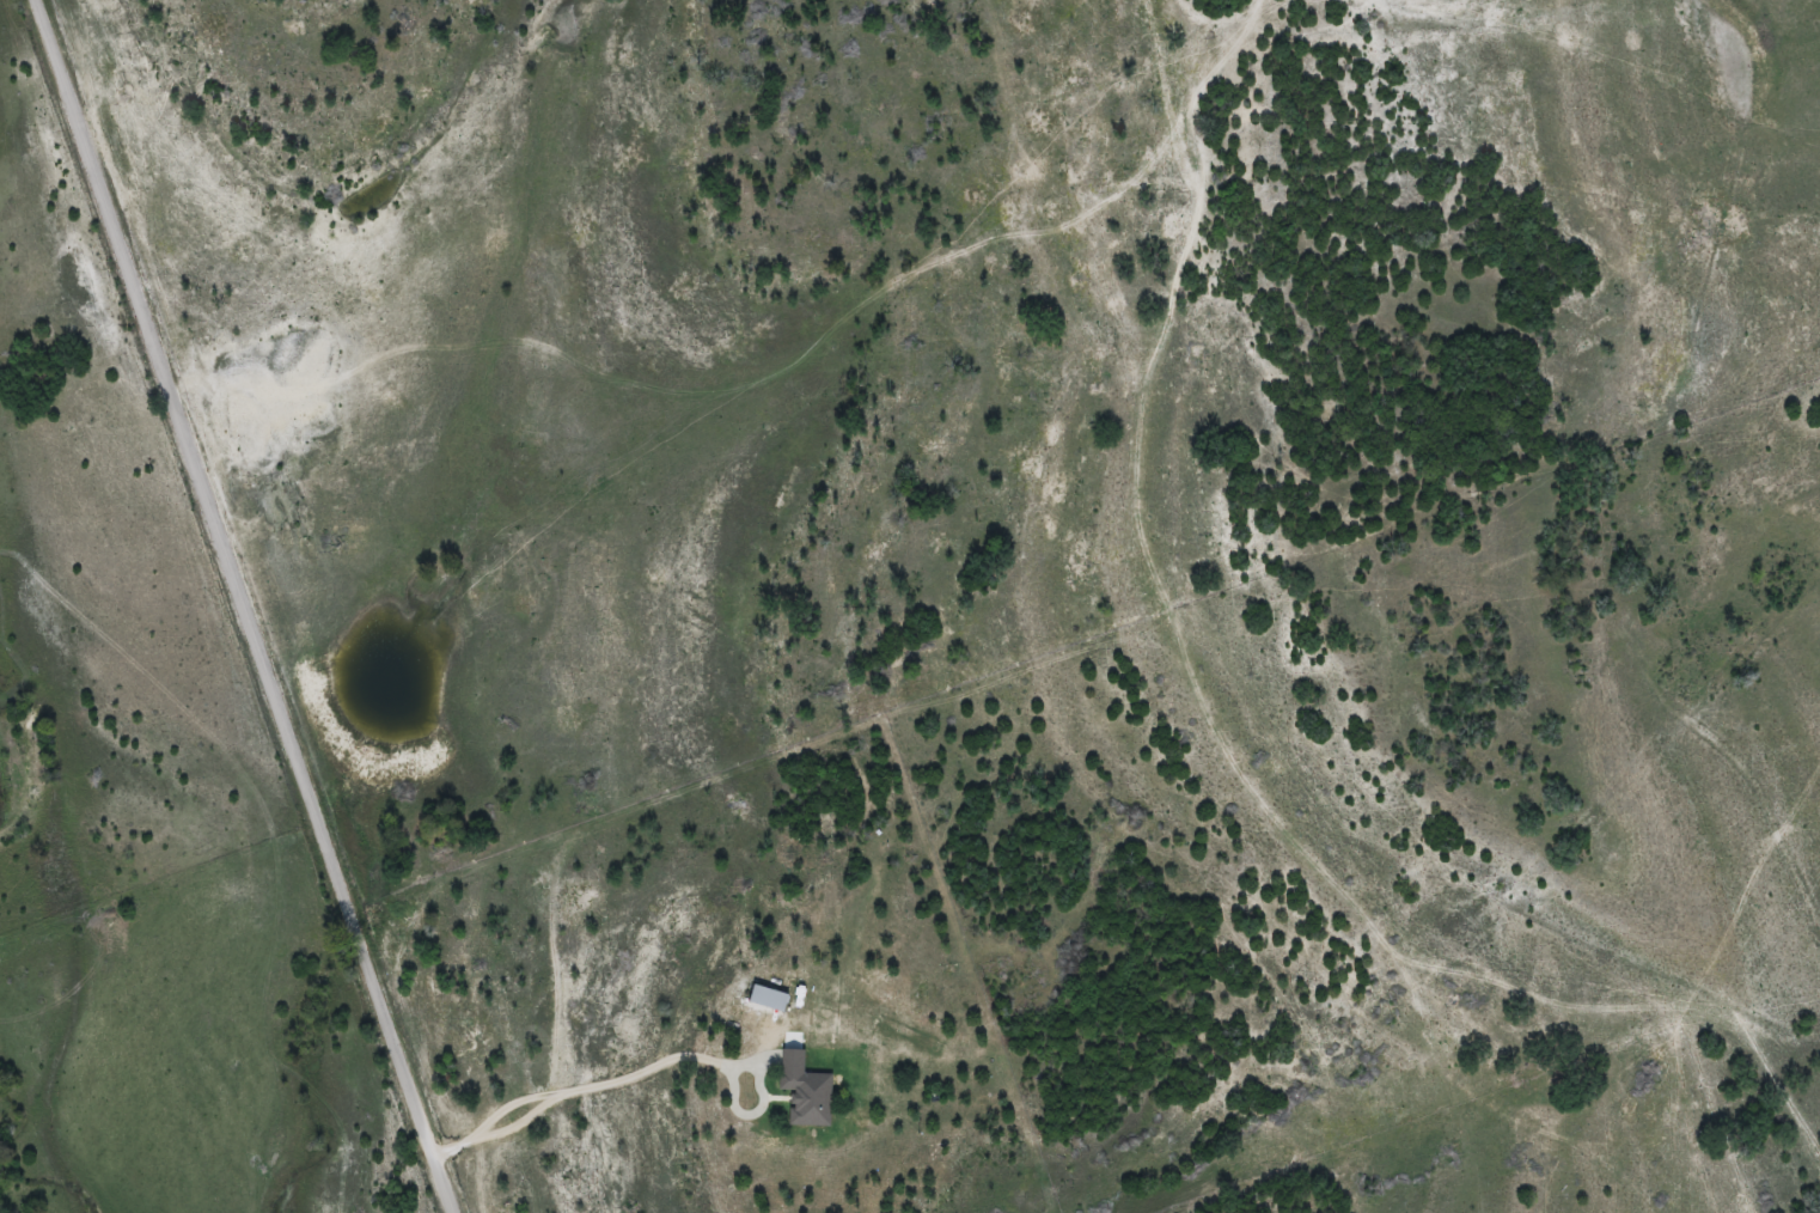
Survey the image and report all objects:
road: (233, 606)

